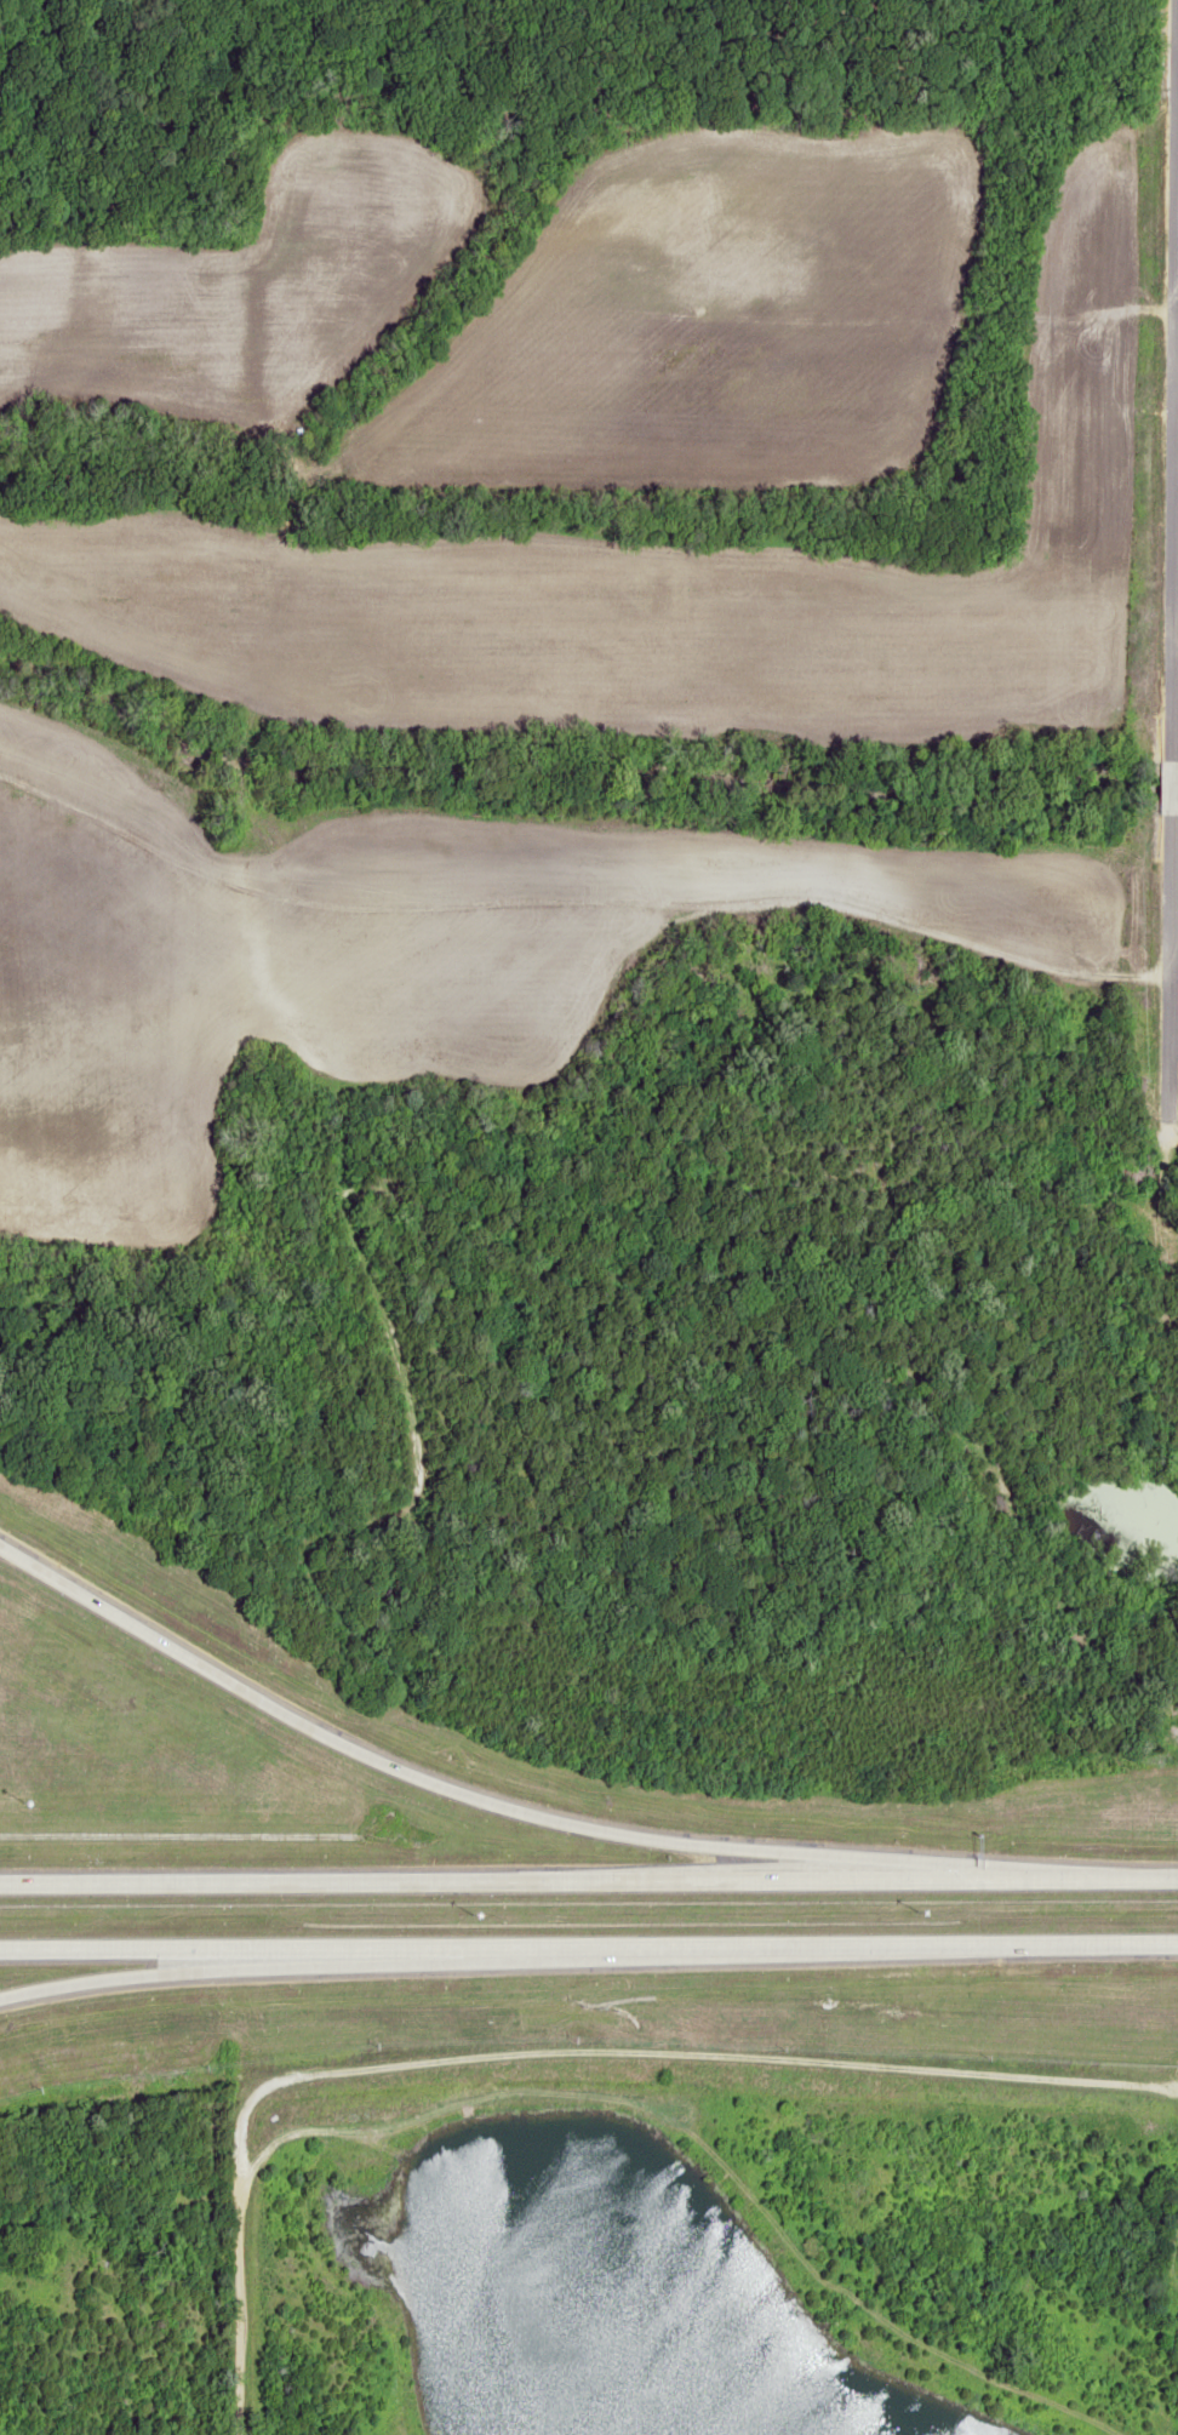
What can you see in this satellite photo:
road: (1170, 372)
road: (1167, 788)
road: (1166, 965)
road: (497, 1810)
road: (1115, 1876)
road: (526, 1880)
road: (75, 1956)
road: (664, 1956)
road: (75, 1976)
road: (539, 2051)

